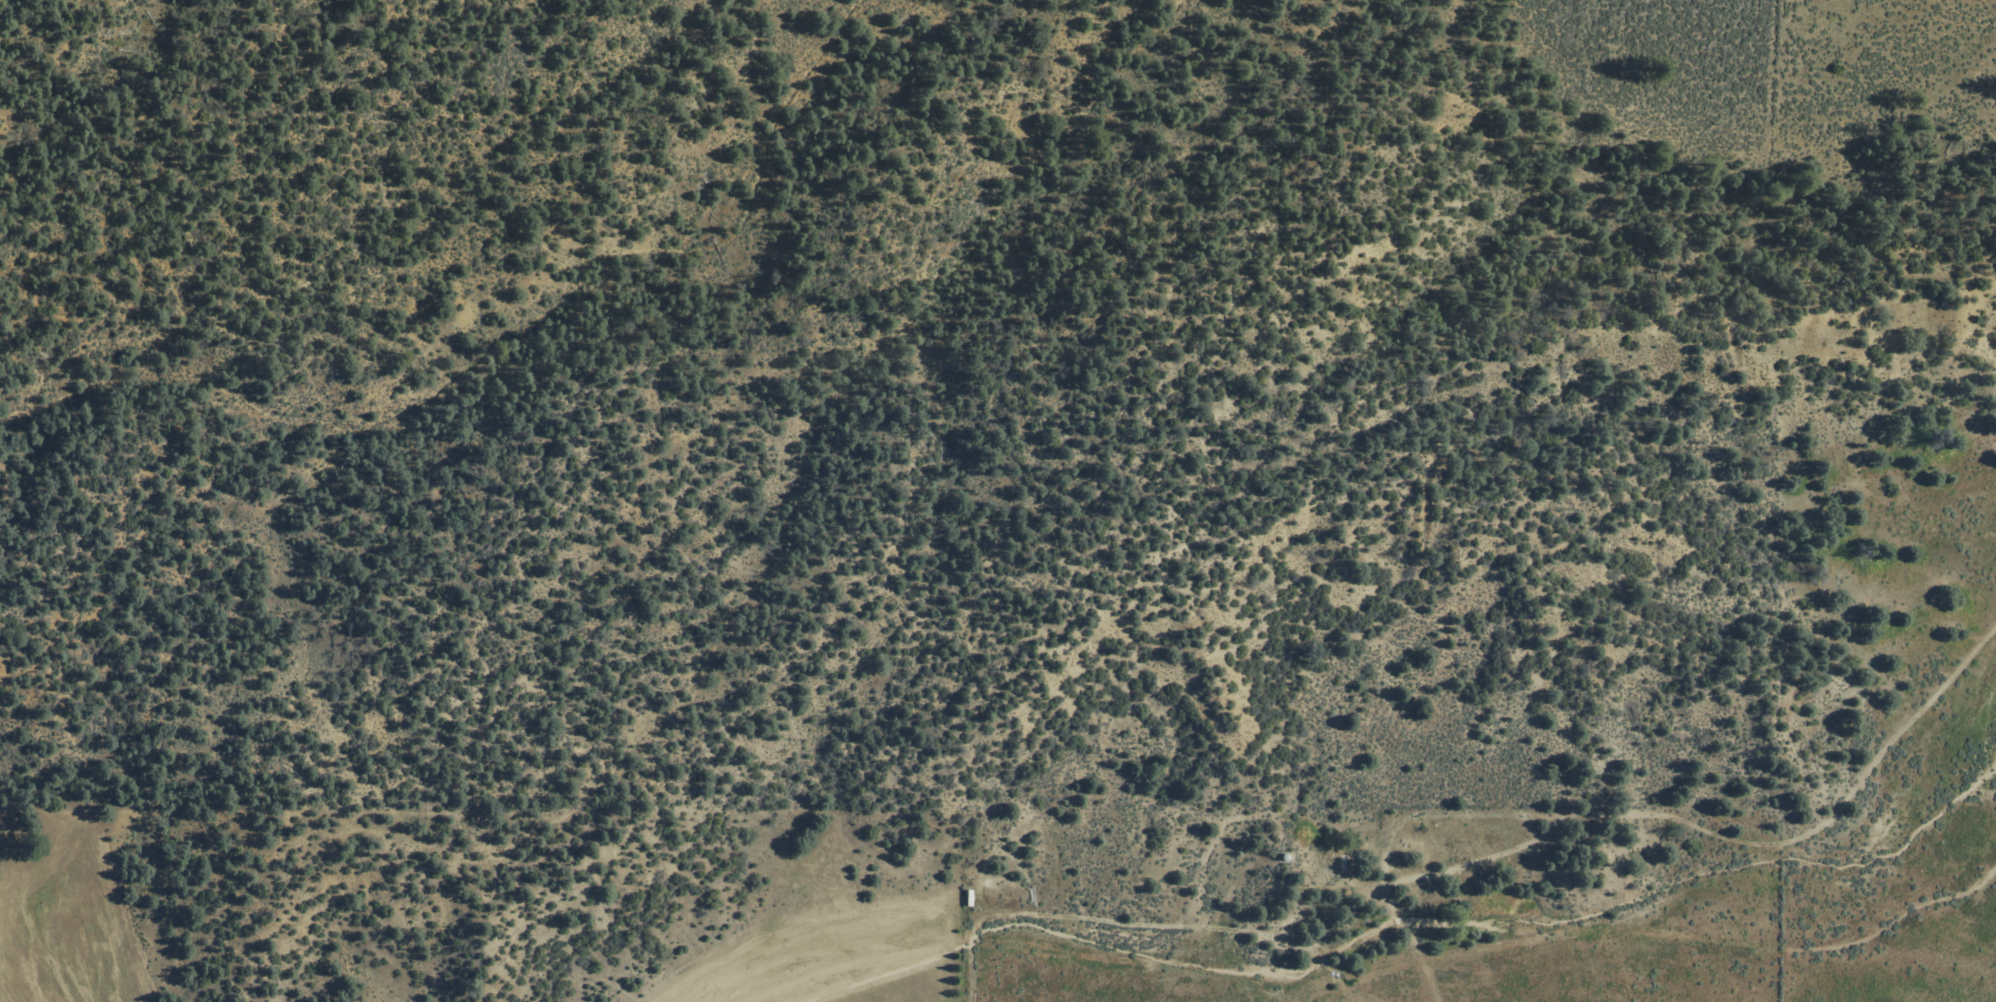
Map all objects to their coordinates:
road: (1666, 811)

